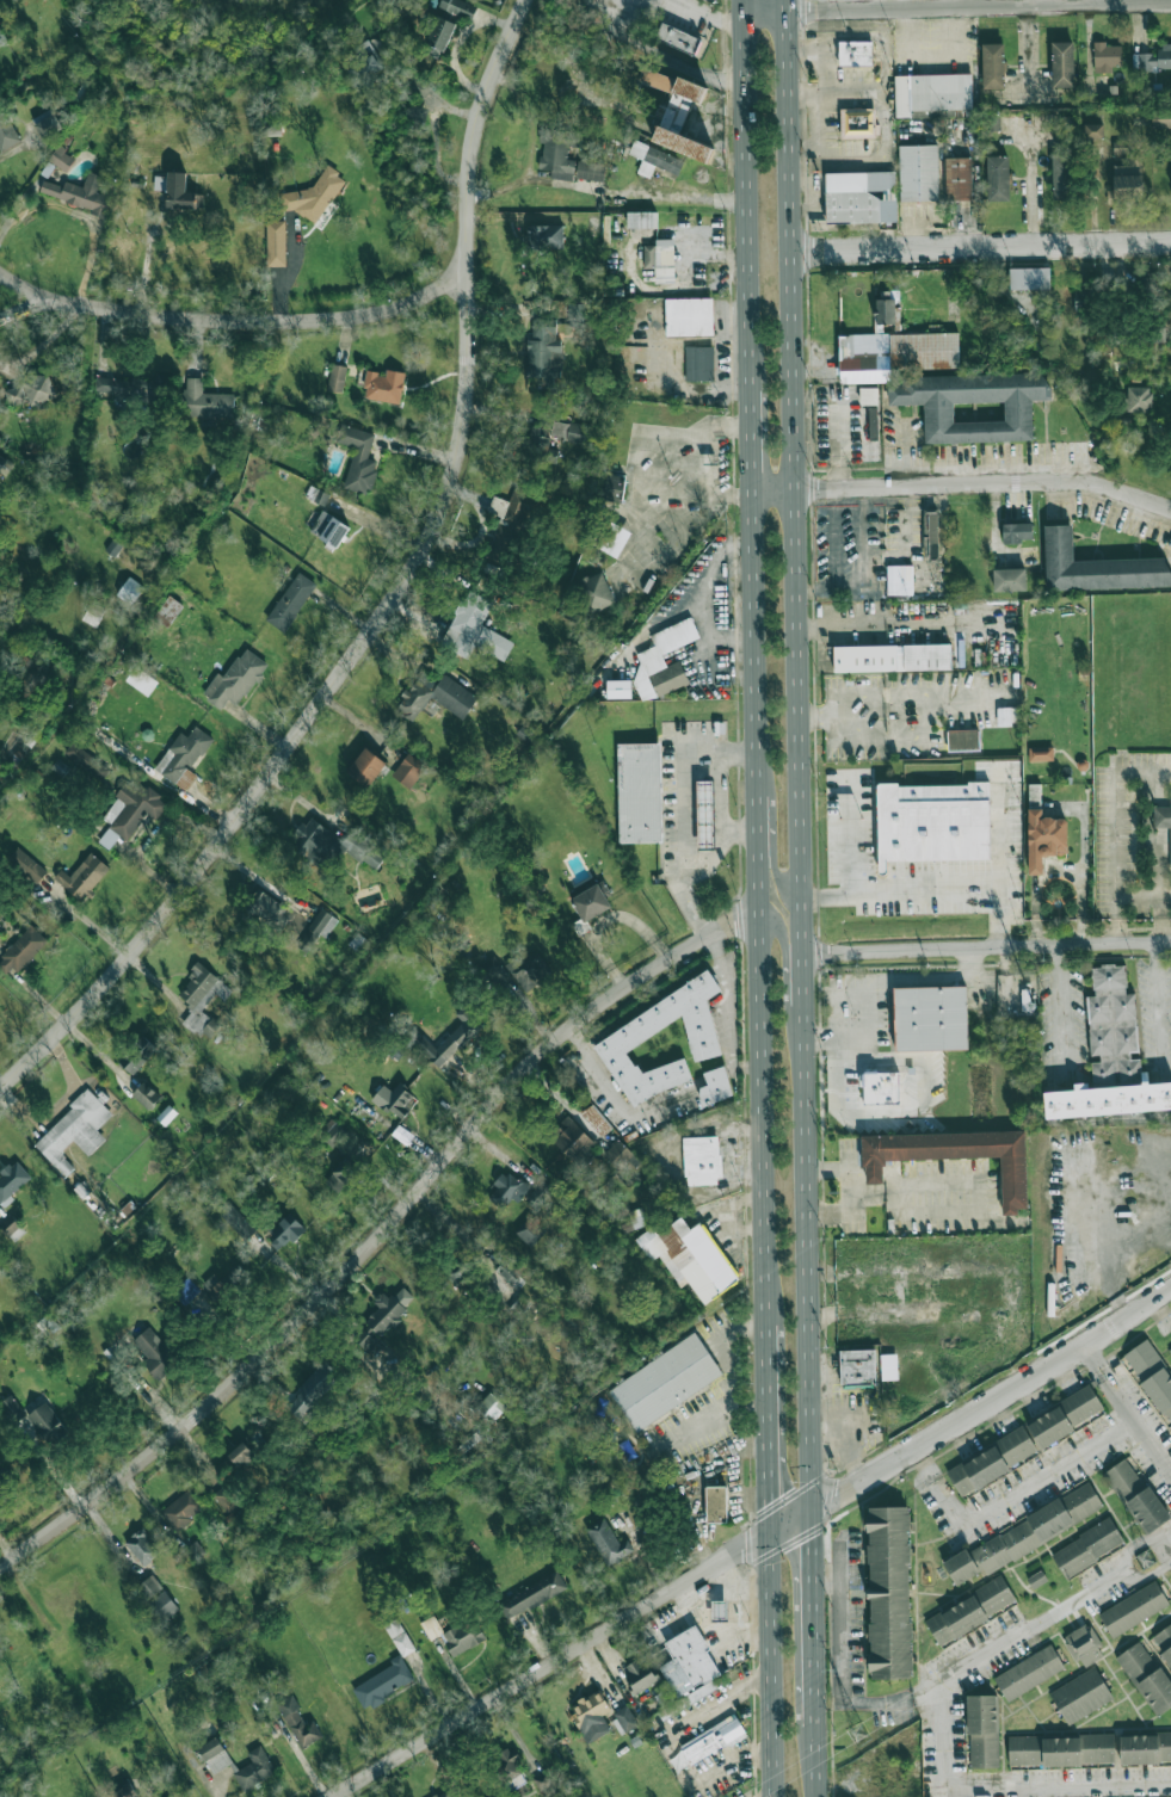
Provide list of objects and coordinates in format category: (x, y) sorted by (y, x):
road: (956, 5)
road: (741, 6)
road: (710, 16)
building: (446, 24)
building: (678, 30)
building: (0, 43)
building: (856, 53)
road: (667, 56)
building: (1105, 56)
building: (1153, 58)
building: (1062, 64)
building: (363, 66)
building: (993, 66)
building: (655, 79)
building: (690, 89)
building: (933, 95)
road: (433, 99)
building: (1161, 118)
building: (45, 122)
building: (993, 122)
building: (858, 123)
building: (1095, 130)
building: (7, 132)
building: (679, 134)
building: (1120, 148)
road: (530, 149)
road: (437, 150)
building: (557, 153)
building: (61, 159)
building: (654, 159)
building: (590, 171)
building: (918, 173)
building: (1062, 177)
building: (998, 178)
building: (957, 179)
building: (1127, 181)
road: (1029, 185)
building: (175, 190)
building: (80, 193)
building: (314, 197)
building: (861, 197)
road: (745, 202)
road: (84, 215)
building: (641, 220)
building: (546, 236)
building: (275, 242)
road: (979, 246)
road: (147, 255)
building: (661, 259)
building: (1029, 278)
building: (1083, 299)
road: (29, 308)
building: (886, 311)
road: (239, 316)
building: (689, 317)
building: (544, 353)
building: (699, 363)
building: (337, 378)
building: (384, 385)
building: (112, 387)
building: (944, 387)
building: (30, 393)
building: (868, 396)
building: (1139, 399)
building: (205, 401)
building: (871, 422)
building: (567, 431)
road: (748, 440)
building: (540, 446)
road: (838, 446)
building: (358, 458)
building: (5, 464)
road: (962, 483)
building: (614, 490)
building: (509, 527)
building: (329, 529)
road: (380, 529)
building: (1017, 532)
building: (930, 535)
building: (611, 538)
building: (115, 545)
building: (1097, 567)
building: (916, 579)
building: (1009, 579)
building: (130, 591)
building: (593, 591)
building: (291, 601)
road: (395, 604)
building: (168, 611)
building: (93, 613)
building: (475, 629)
building: (892, 657)
building: (662, 660)
building: (141, 680)
building: (235, 680)
building: (618, 688)
building: (434, 696)
road: (885, 697)
building: (1007, 716)
road: (880, 739)
building: (963, 740)
road: (797, 752)
building: (1041, 754)
building: (84, 758)
building: (184, 758)
building: (366, 767)
road: (1134, 768)
building: (408, 771)
building: (640, 792)
road: (824, 810)
building: (130, 811)
road: (682, 814)
building: (705, 815)
building: (1163, 819)
building: (935, 822)
road: (721, 825)
road: (775, 825)
road: (740, 832)
road: (849, 832)
building: (1044, 839)
building: (337, 845)
road: (1004, 858)
building: (30, 869)
building: (84, 877)
road: (902, 890)
building: (591, 902)
building: (266, 908)
road: (758, 908)
building: (316, 930)
road: (987, 945)
building: (20, 951)
building: (528, 969)
road: (721, 989)
road: (1060, 998)
road: (1155, 998)
road: (788, 999)
building: (202, 1000)
building: (931, 1018)
building: (637, 1029)
building: (450, 1039)
road: (831, 1040)
building: (136, 1054)
building: (1111, 1057)
road: (600, 1074)
building: (715, 1086)
building: (881, 1087)
building: (146, 1095)
building: (393, 1100)
building: (167, 1114)
building: (596, 1120)
building: (74, 1131)
building: (333, 1134)
building: (572, 1140)
building: (950, 1155)
building: (622, 1157)
building: (702, 1160)
building: (12, 1181)
road: (848, 1188)
building: (507, 1190)
building: (540, 1194)
building: (637, 1217)
building: (238, 1222)
building: (285, 1230)
building: (530, 1231)
road: (378, 1236)
building: (690, 1258)
building: (460, 1268)
building: (512, 1276)
building: (389, 1309)
building: (366, 1342)
building: (1170, 1348)
building: (155, 1353)
building: (858, 1366)
building: (888, 1366)
building: (1152, 1375)
building: (666, 1382)
building: (309, 1394)
road: (994, 1400)
building: (491, 1407)
building: (12, 1408)
road: (1127, 1410)
building: (1062, 1418)
building: (48, 1422)
road: (770, 1427)
building: (241, 1456)
building: (992, 1462)
building: (4, 1477)
road: (685, 1480)
road: (1010, 1492)
building: (1136, 1495)
building: (226, 1499)
building: (719, 1503)
traffic signals: (815, 1503)
building: (183, 1508)
traffic signals: (772, 1527)
building: (1024, 1534)
building: (608, 1543)
building: (142, 1546)
road: (1141, 1546)
building: (1087, 1548)
building: (193, 1551)
power tower: (1146, 1557)
road: (1150, 1570)
building: (1037, 1579)
road: (1103, 1586)
building: (889, 1592)
building: (532, 1595)
building: (156, 1598)
building: (1133, 1608)
building: (720, 1611)
building: (970, 1611)
road: (814, 1616)
building: (431, 1628)
building: (463, 1636)
building: (1164, 1642)
building: (1084, 1645)
road: (571, 1648)
road: (1001, 1649)
road: (774, 1662)
road: (839, 1662)
building: (689, 1669)
building: (0, 1672)
building: (1029, 1673)
building: (640, 1674)
building: (1147, 1676)
building: (382, 1684)
building: (1080, 1696)
building: (591, 1716)
building: (625, 1718)
building: (298, 1722)
building: (982, 1731)
power tower: (861, 1733)
building: (711, 1740)
building: (1145, 1748)
building: (1061, 1750)
building: (215, 1755)
road: (816, 1762)
building: (507, 1764)
building: (254, 1768)
building: (544, 1783)
road: (1003, 1785)
building: (124, 1790)
building: (443, 1795)

